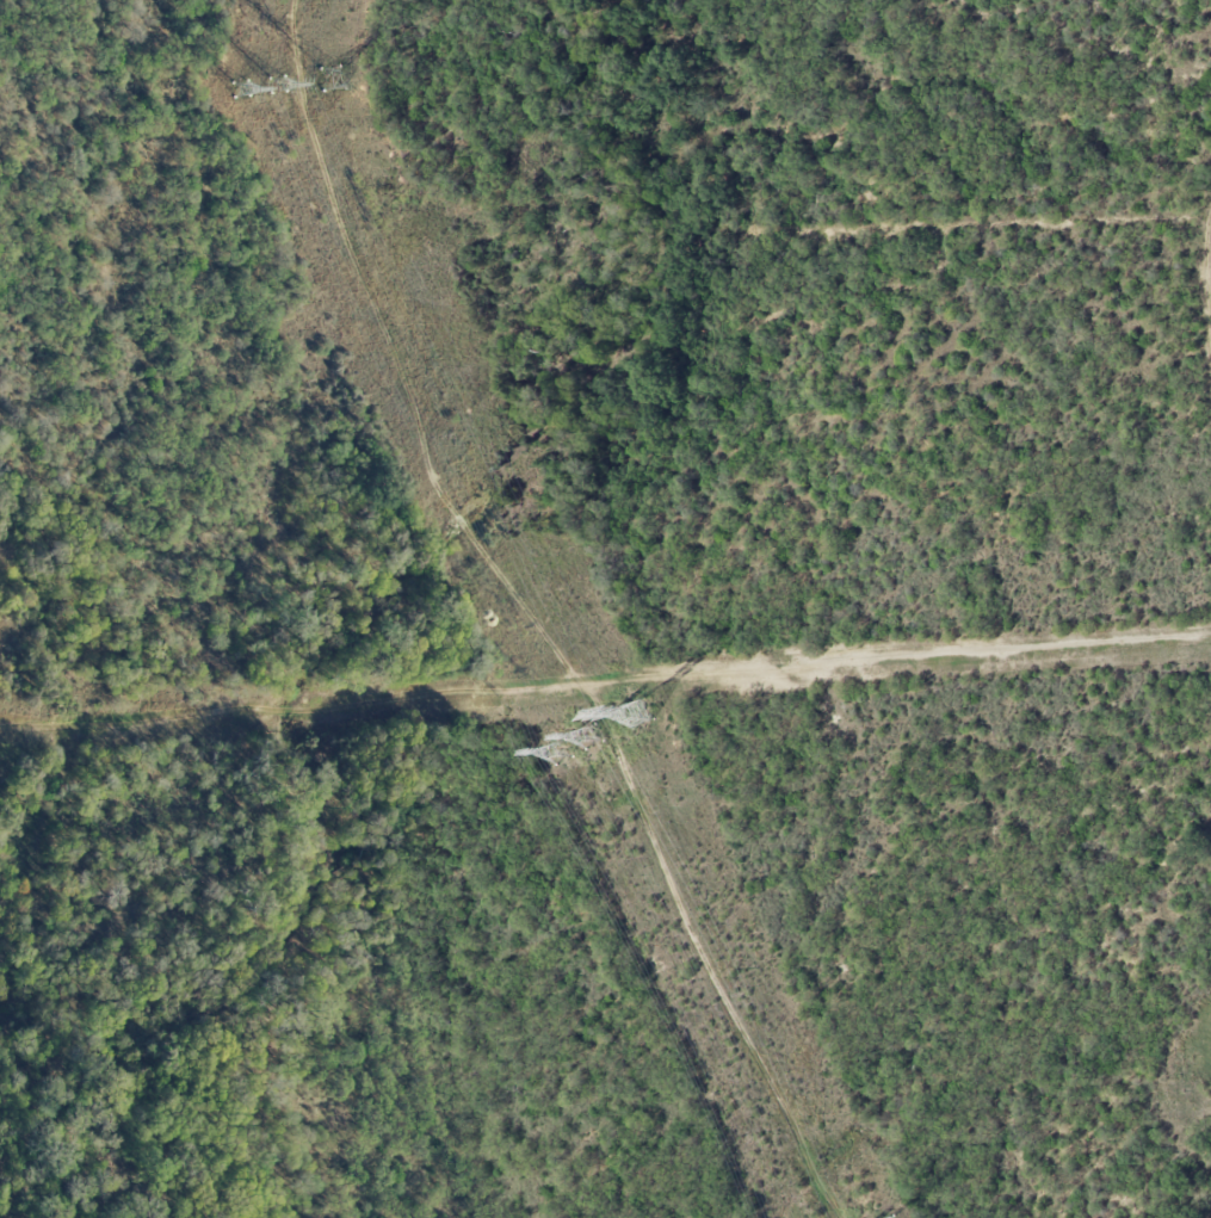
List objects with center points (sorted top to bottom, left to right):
power tower: (329, 76)
power tower: (277, 85)
power tower: (240, 88)
road: (1206, 271)
road: (533, 619)
road: (605, 681)
power tower: (641, 713)
power tower: (593, 737)
power tower: (561, 754)

